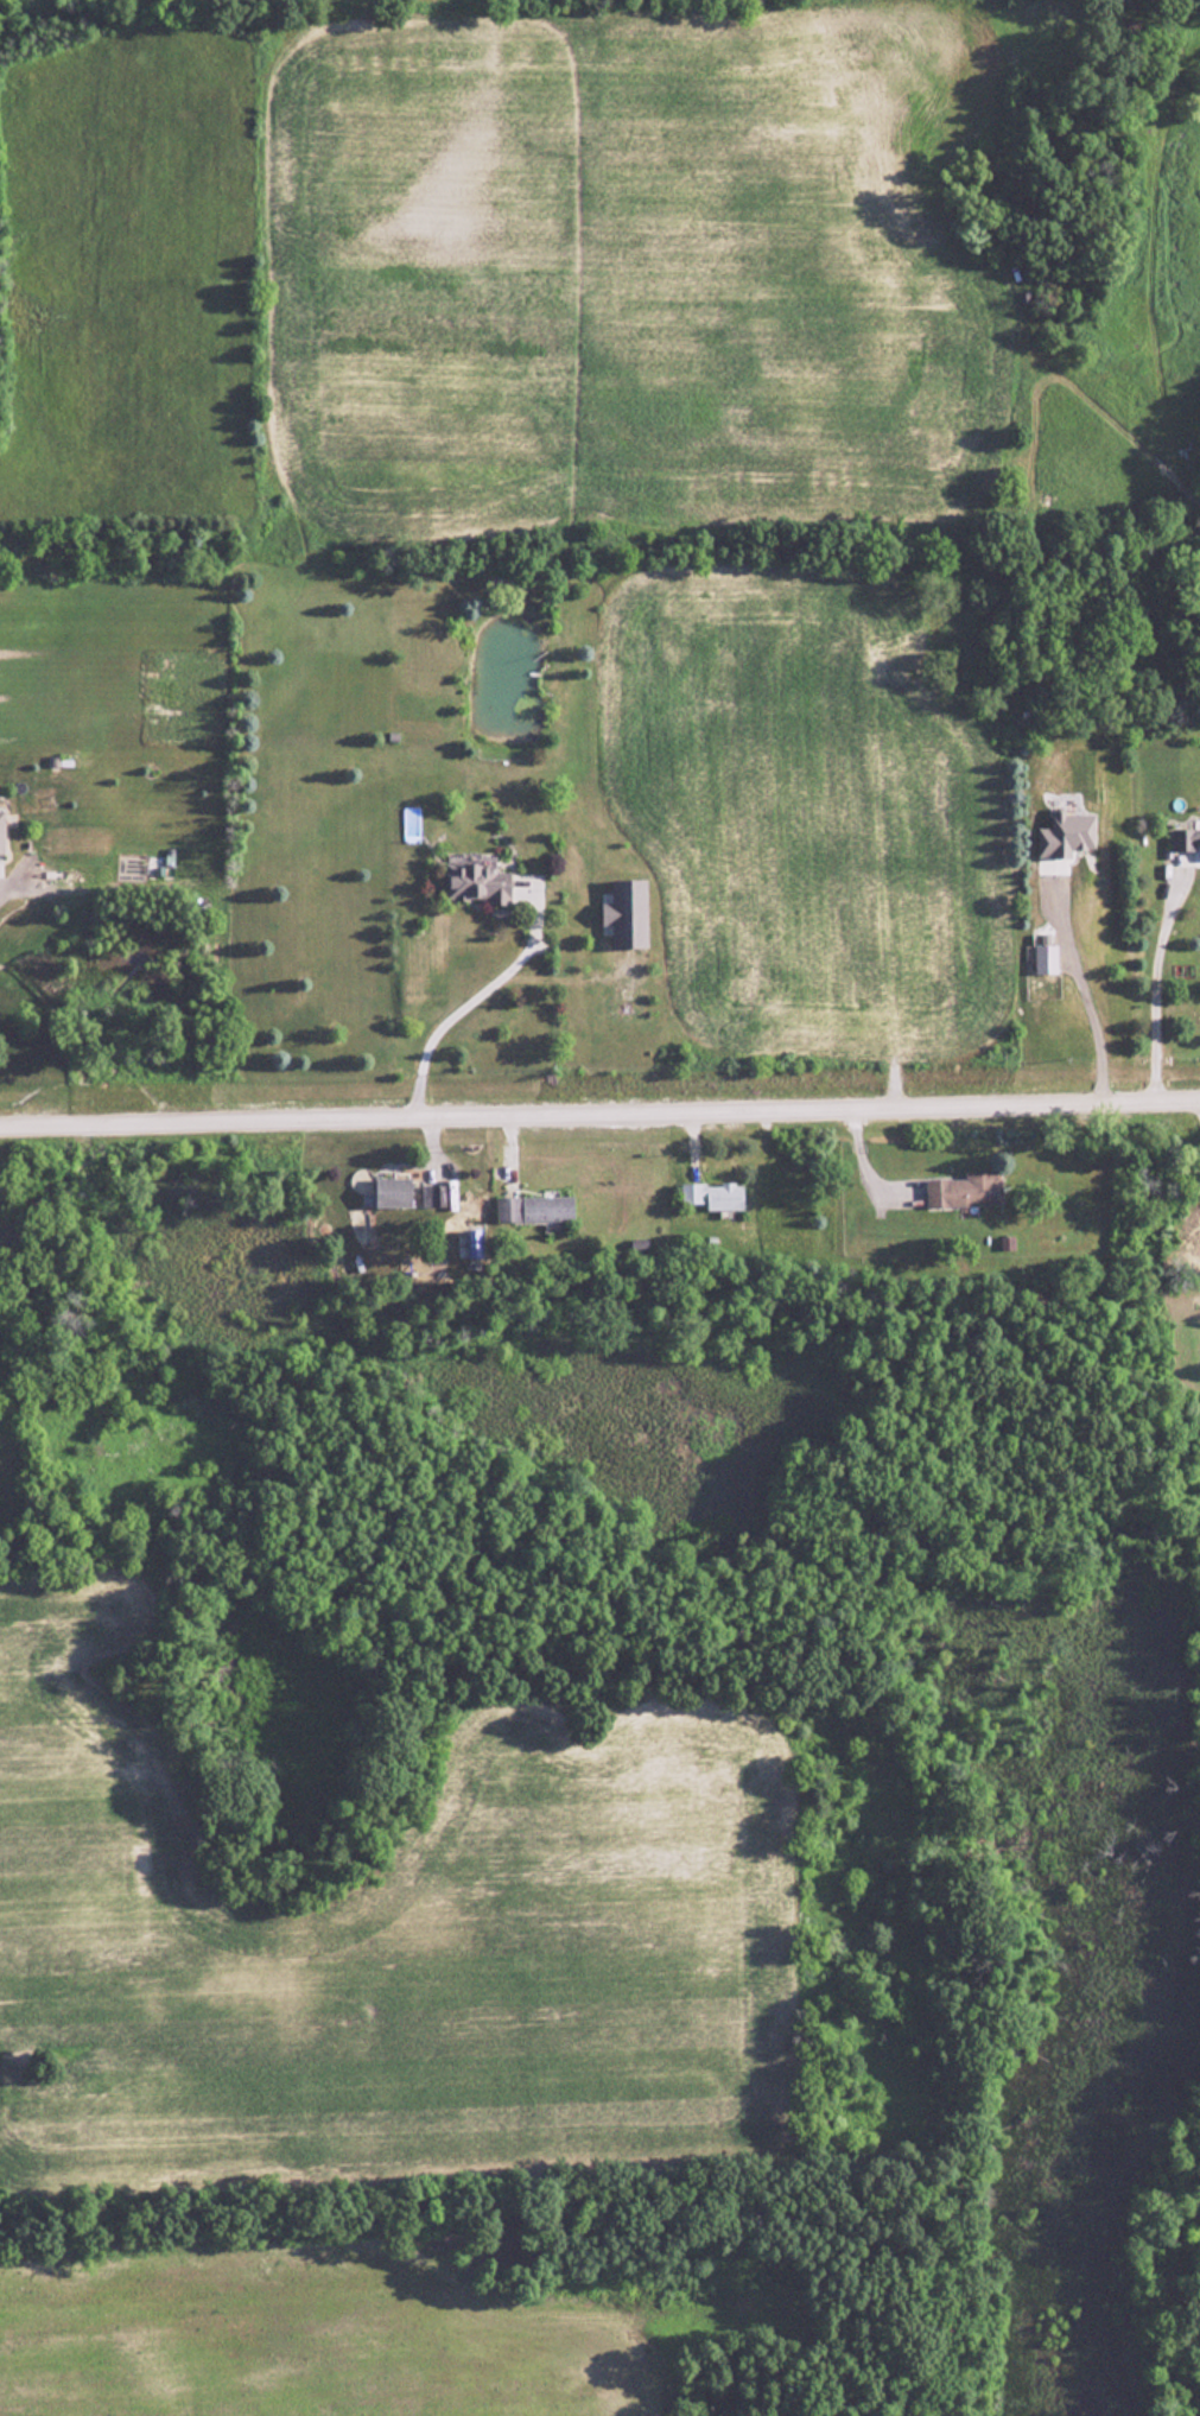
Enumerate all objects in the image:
crop: (494, 265)
crop: (806, 806)
building: (4, 831)
building: (1062, 833)
building: (1186, 838)
building: (478, 882)
building: (628, 913)
building: (1043, 958)
road: (459, 1002)
road: (1199, 1098)
road: (599, 1108)
building: (396, 1190)
building: (967, 1190)
building: (434, 1193)
building: (717, 1194)
building: (538, 1207)
building: (389, 1236)
building: (471, 1243)

